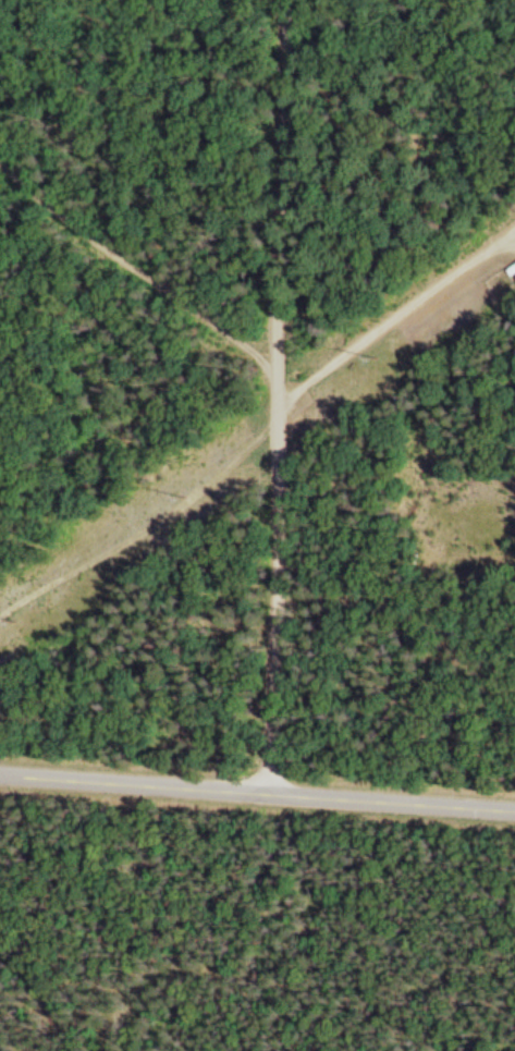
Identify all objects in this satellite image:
road: (502, 236)
road: (502, 245)
road: (142, 270)
road: (378, 327)
road: (275, 395)
road: (145, 523)
road: (257, 791)

